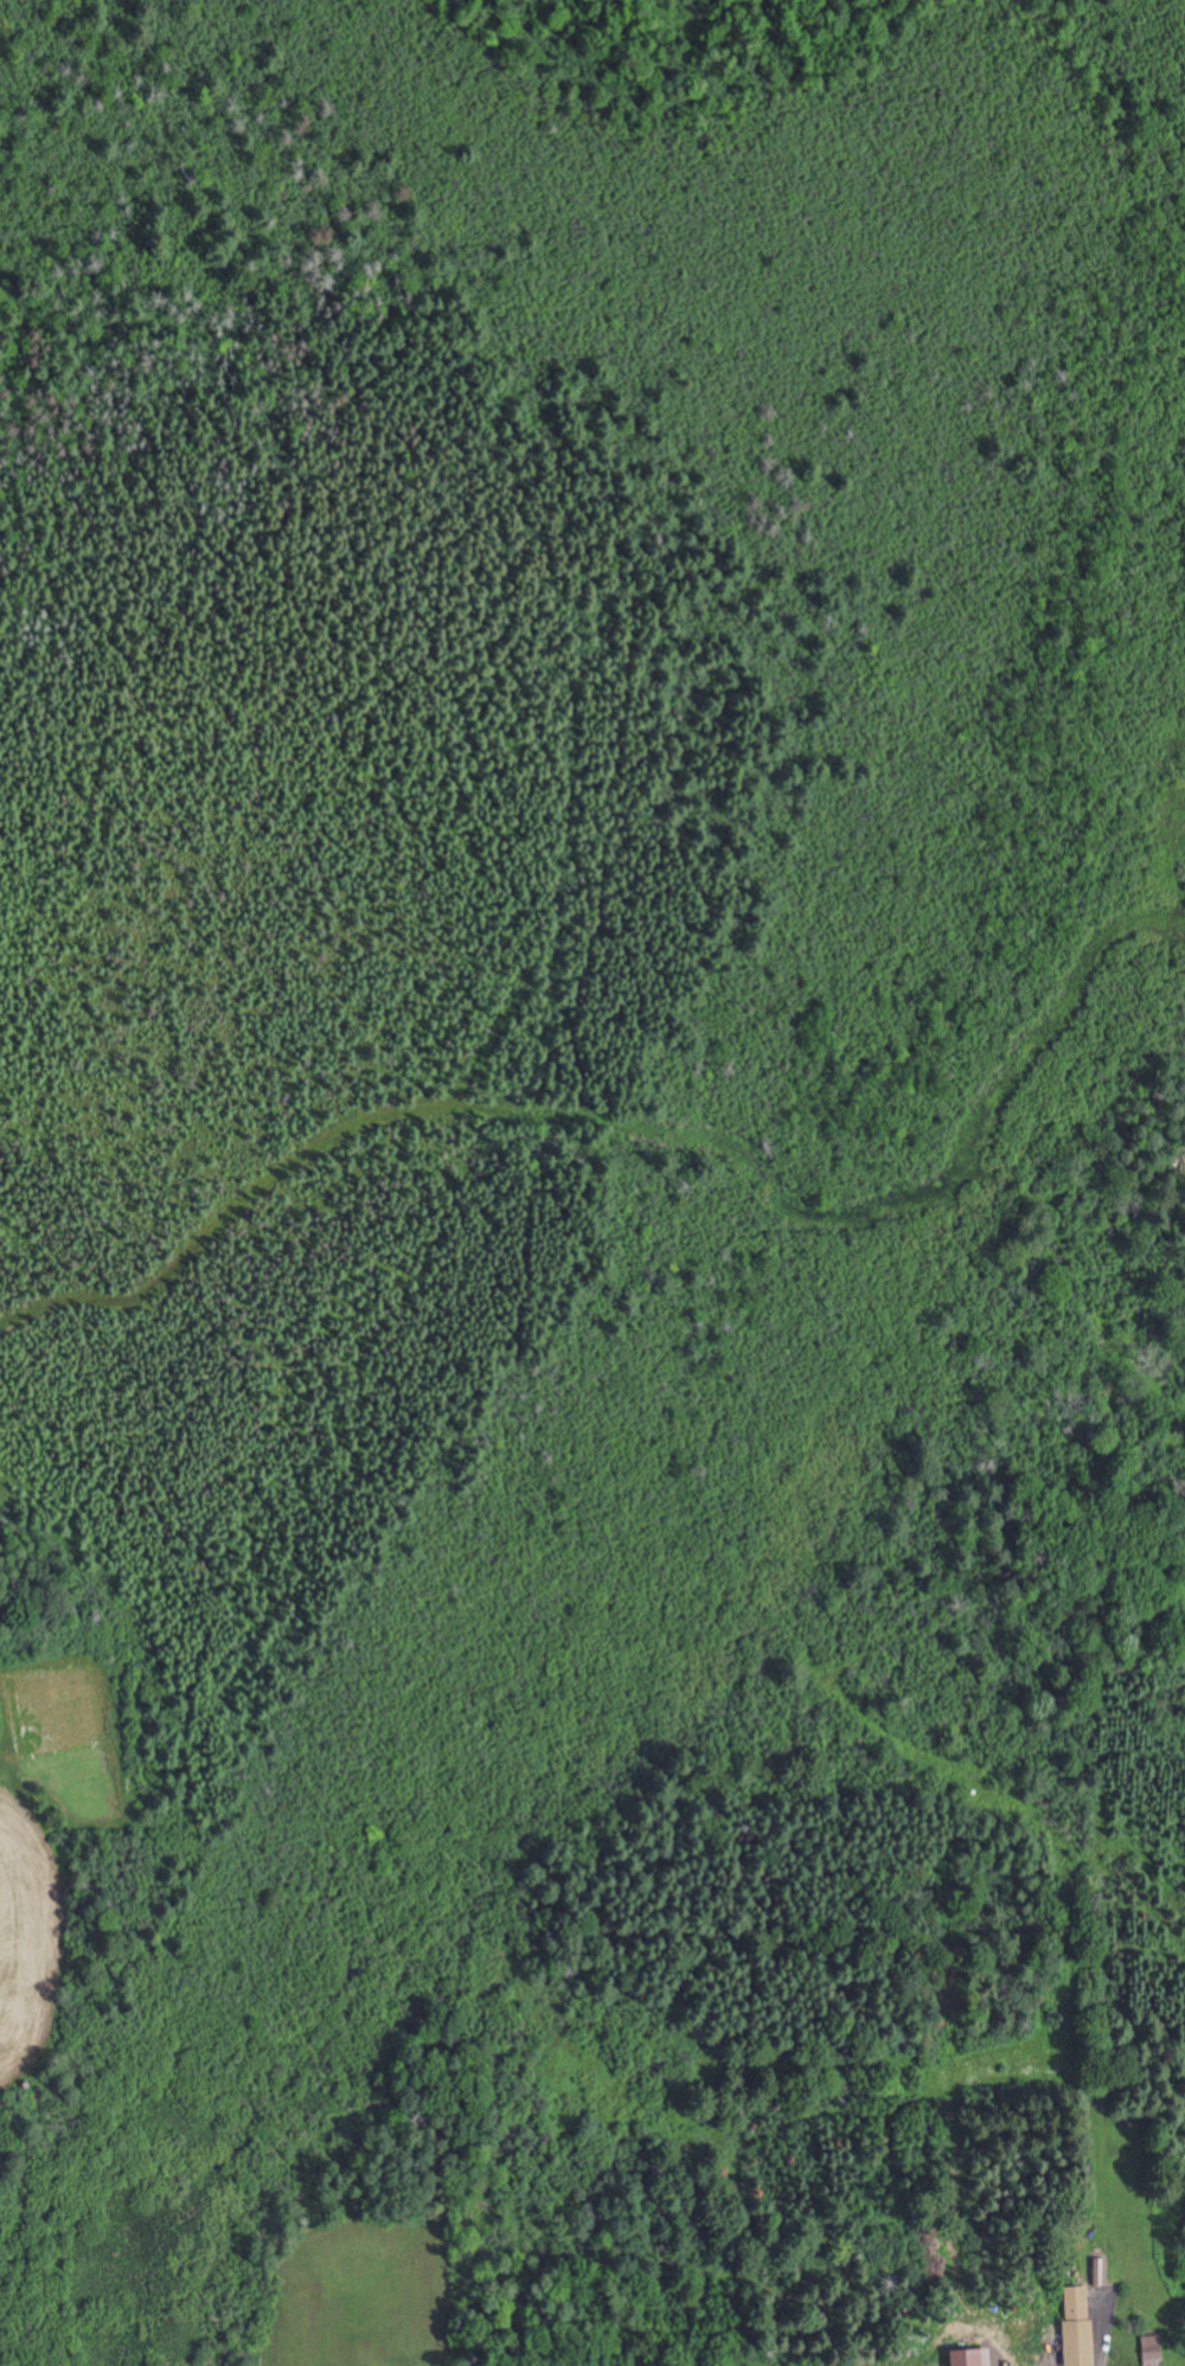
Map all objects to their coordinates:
building: (1068, 2306)
building: (1147, 2349)

